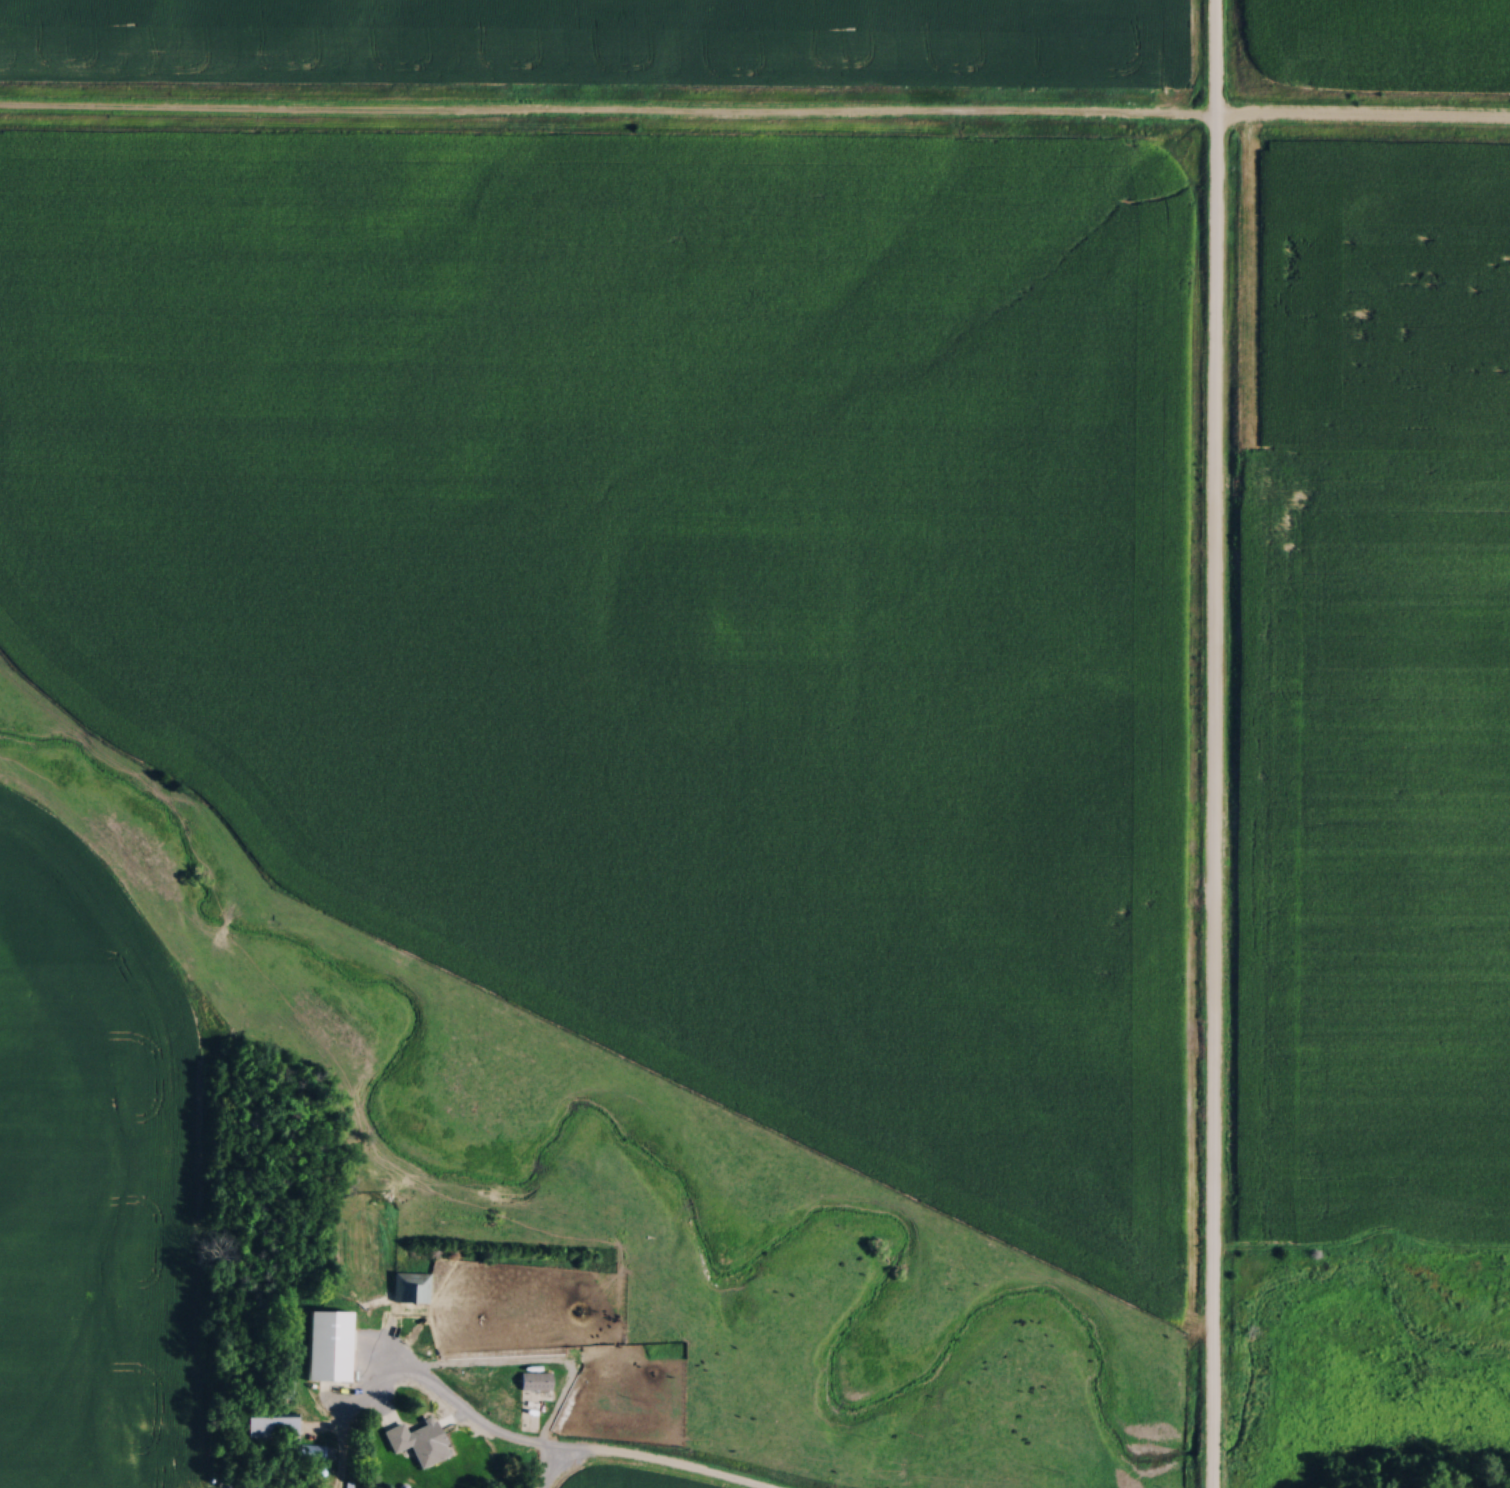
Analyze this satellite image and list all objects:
road: (608, 113)
road: (1363, 121)
road: (1210, 744)
building: (409, 1289)
building: (322, 1346)
building: (535, 1380)
building: (267, 1428)
building: (410, 1443)
road: (552, 1450)
building: (308, 1452)

